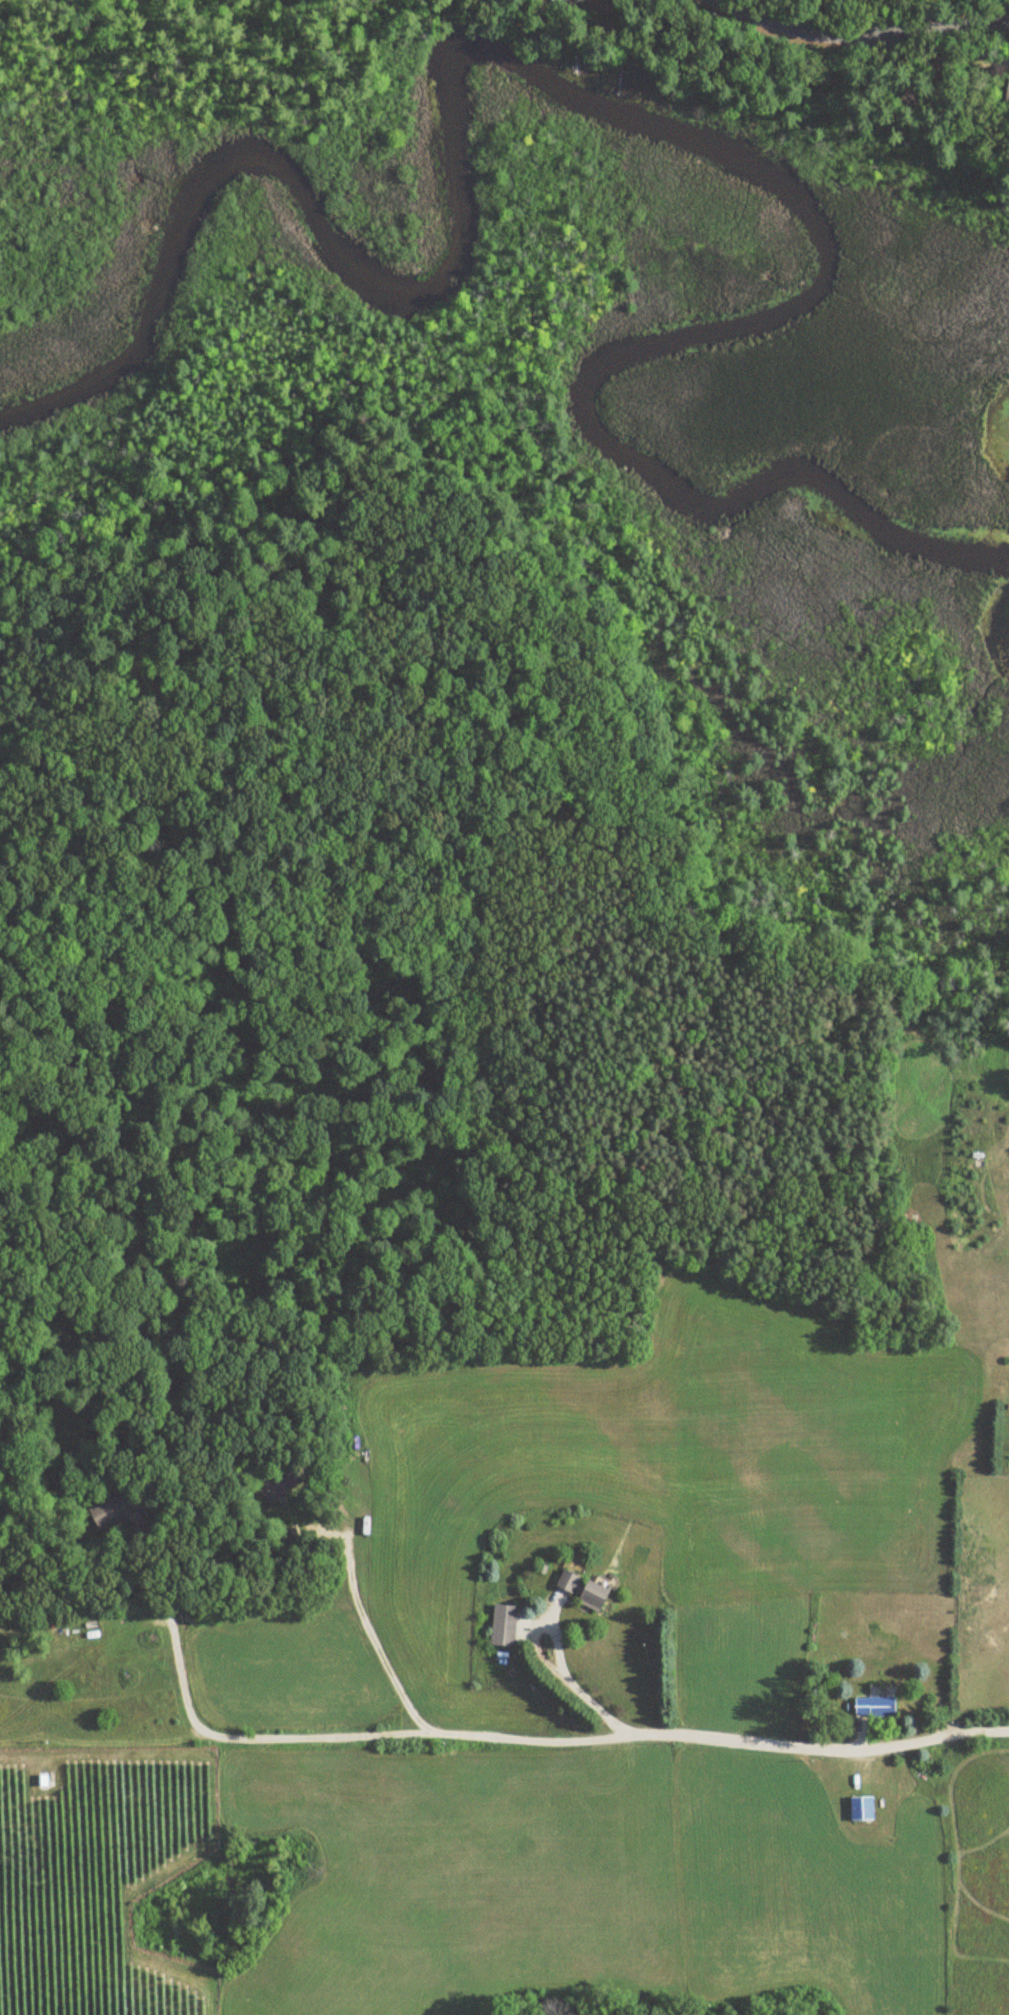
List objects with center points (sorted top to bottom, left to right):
road: (862, 32)
building: (1006, 89)
road: (953, 1061)
building: (276, 1484)
building: (109, 1508)
building: (582, 1589)
building: (502, 1625)
road: (372, 1632)
road: (177, 1651)
road: (581, 1693)
building: (873, 1707)
road: (617, 1736)
building: (860, 1808)

